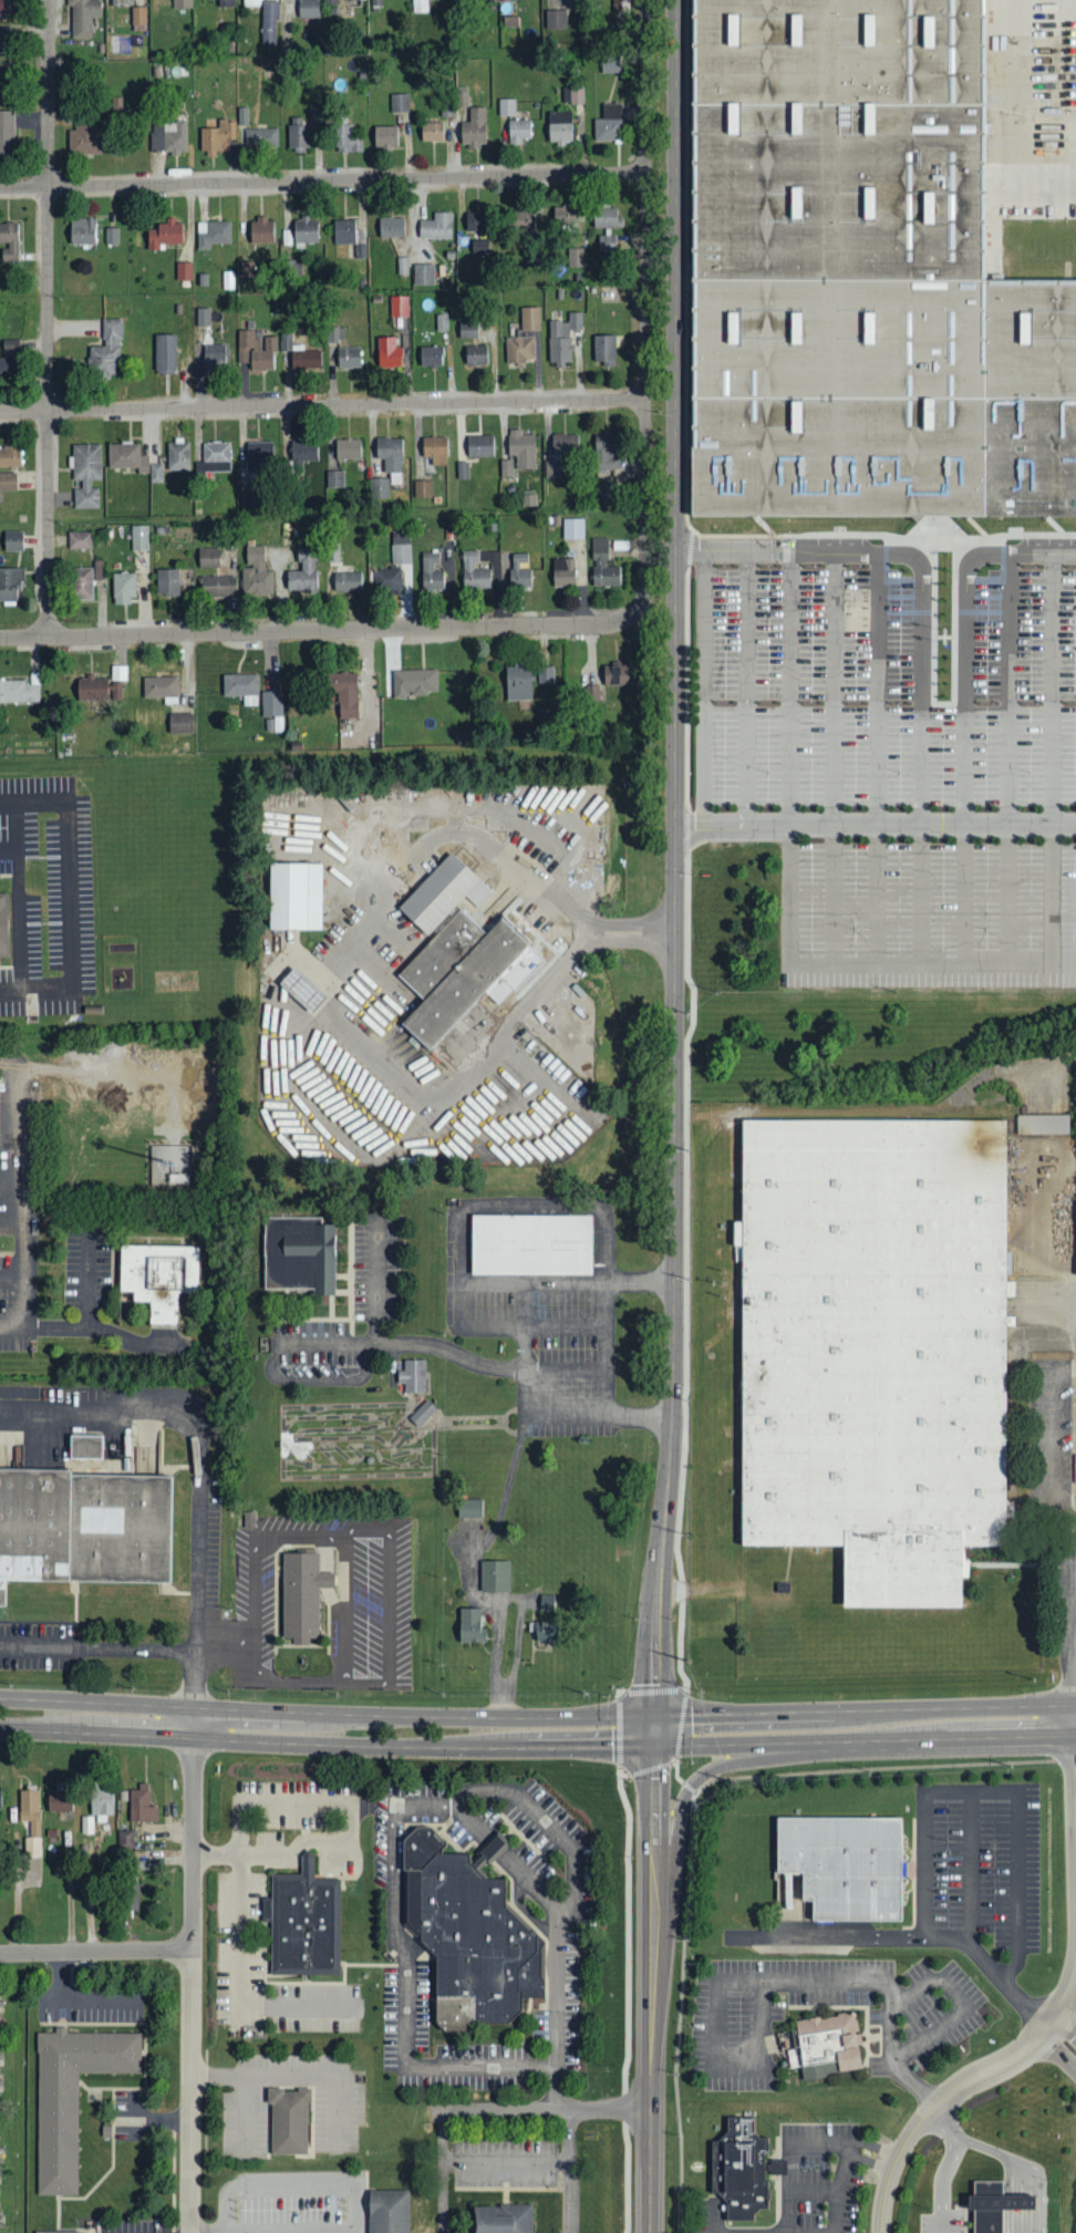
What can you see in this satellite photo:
building: (183, 3)
building: (227, 3)
building: (251, 3)
building: (620, 6)
building: (4, 7)
building: (420, 7)
building: (308, 9)
building: (83, 17)
building: (138, 19)
building: (556, 20)
building: (510, 22)
building: (269, 23)
building: (1, 43)
building: (610, 63)
building: (462, 96)
building: (577, 96)
building: (400, 103)
building: (506, 107)
building: (314, 117)
building: (609, 124)
building: (560, 128)
building: (474, 130)
building: (519, 131)
building: (432, 132)
building: (7, 134)
building: (298, 135)
building: (217, 136)
building: (168, 137)
building: (385, 137)
building: (83, 138)
building: (261, 138)
building: (348, 139)
road: (323, 179)
building: (560, 219)
building: (476, 221)
building: (523, 226)
building: (392, 227)
building: (436, 227)
building: (608, 227)
building: (83, 231)
building: (261, 231)
building: (306, 231)
building: (213, 234)
building: (165, 235)
building: (112, 236)
building: (288, 238)
building: (350, 238)
building: (9, 242)
building: (480, 247)
building: (576, 258)
building: (247, 269)
building: (184, 271)
building: (424, 275)
building: (861, 276)
building: (228, 280)
road: (646, 301)
building: (399, 306)
building: (203, 316)
road: (46, 317)
building: (530, 318)
building: (442, 321)
building: (468, 329)
building: (335, 333)
building: (562, 338)
building: (10, 344)
building: (604, 347)
building: (258, 349)
building: (520, 349)
building: (106, 350)
building: (389, 352)
building: (165, 353)
building: (301, 354)
building: (476, 354)
building: (215, 355)
building: (431, 355)
building: (349, 356)
building: (6, 364)
road: (323, 404)
building: (563, 444)
building: (479, 445)
building: (348, 448)
building: (435, 448)
building: (521, 448)
building: (607, 451)
building: (300, 452)
building: (178, 455)
building: (259, 455)
building: (10, 456)
building: (126, 456)
building: (216, 456)
building: (391, 456)
building: (506, 467)
building: (552, 468)
building: (156, 473)
building: (86, 474)
building: (334, 478)
building: (8, 480)
building: (380, 487)
building: (423, 488)
building: (528, 497)
building: (572, 528)
building: (139, 537)
building: (80, 539)
building: (13, 540)
road: (806, 550)
road: (1014, 550)
building: (333, 552)
building: (401, 554)
building: (208, 557)
building: (602, 564)
building: (97, 569)
building: (519, 570)
building: (303, 571)
building: (474, 571)
building: (563, 571)
building: (256, 572)
building: (431, 572)
building: (387, 579)
building: (167, 581)
building: (348, 581)
building: (83, 582)
building: (10, 583)
building: (217, 585)
building: (124, 587)
road: (327, 630)
building: (546, 674)
building: (615, 674)
building: (414, 682)
building: (518, 682)
parking lot: (887, 685)
building: (102, 686)
building: (161, 688)
building: (241, 688)
building: (20, 689)
road: (747, 690)
road: (703, 691)
building: (343, 692)
building: (180, 722)
road: (790, 763)
road: (835, 763)
road: (879, 763)
road: (1007, 763)
road: (1053, 764)
road: (921, 775)
road: (965, 775)
road: (509, 811)
road: (387, 813)
road: (439, 824)
road: (876, 829)
road: (689, 844)
road: (424, 845)
road: (9, 847)
road: (353, 854)
road: (676, 865)
road: (583, 871)
road: (394, 879)
parking lot: (49, 893)
road: (69, 895)
building: (296, 895)
road: (19, 896)
road: (549, 907)
parking lot: (932, 912)
building: (3, 924)
building: (453, 948)
road: (933, 976)
road: (303, 980)
road: (314, 985)
road: (322, 989)
building: (301, 991)
road: (319, 1019)
road: (298, 1090)
road: (423, 1098)
building: (1042, 1124)
road: (544, 1128)
building: (170, 1165)
road: (499, 1203)
road: (17, 1206)
building: (530, 1243)
building: (300, 1253)
building: (158, 1278)
road: (376, 1280)
road: (85, 1327)
building: (875, 1346)
road: (498, 1367)
building: (413, 1373)
road: (566, 1410)
building: (423, 1412)
road: (198, 1472)
road: (505, 1500)
building: (469, 1508)
building: (83, 1521)
road: (345, 1565)
building: (494, 1576)
building: (301, 1593)
road: (499, 1606)
building: (470, 1626)
building: (546, 1632)
road: (97, 1646)
road: (227, 1652)
road: (618, 1699)
road: (681, 1722)
road: (964, 1724)
road: (328, 1728)
road: (755, 1728)
traffic signals: (656, 1730)
road: (883, 1768)
road: (646, 1771)
road: (676, 1772)
road: (689, 1788)
road: (992, 1789)
building: (0, 1798)
building: (59, 1800)
building: (29, 1803)
building: (101, 1803)
road: (269, 1803)
building: (142, 1805)
road: (680, 1811)
road: (548, 1822)
building: (86, 1823)
road: (194, 1837)
building: (126, 1839)
building: (32, 1846)
road: (291, 1852)
parking lot: (981, 1860)
building: (844, 1863)
road: (971, 1863)
road: (654, 1872)
building: (128, 1895)
building: (303, 1919)
road: (395, 1931)
building: (469, 1931)
road: (915, 1937)
road: (96, 1951)
road: (556, 1984)
road: (889, 1987)
road: (239, 1989)
road: (961, 2001)
road: (625, 2004)
parking lot: (928, 2018)
road: (1064, 2038)
building: (827, 2040)
road: (717, 2065)
road: (218, 2074)
road: (289, 2075)
road: (956, 2089)
road: (192, 2091)
building: (72, 2094)
road: (546, 2109)
building: (288, 2118)
road: (154, 2119)
road: (650, 2122)
road: (800, 2142)
road: (508, 2159)
road: (1013, 2163)
road: (946, 2165)
building: (742, 2167)
road: (573, 2170)
road: (443, 2172)
road: (292, 2185)
road: (838, 2187)
road: (815, 2188)
parking lot: (291, 2201)
building: (996, 2205)
building: (390, 2210)
road: (715, 2214)
building: (500, 2216)
building: (58, 2230)
road: (291, 2230)
road: (208, 2231)
road: (227, 2232)

